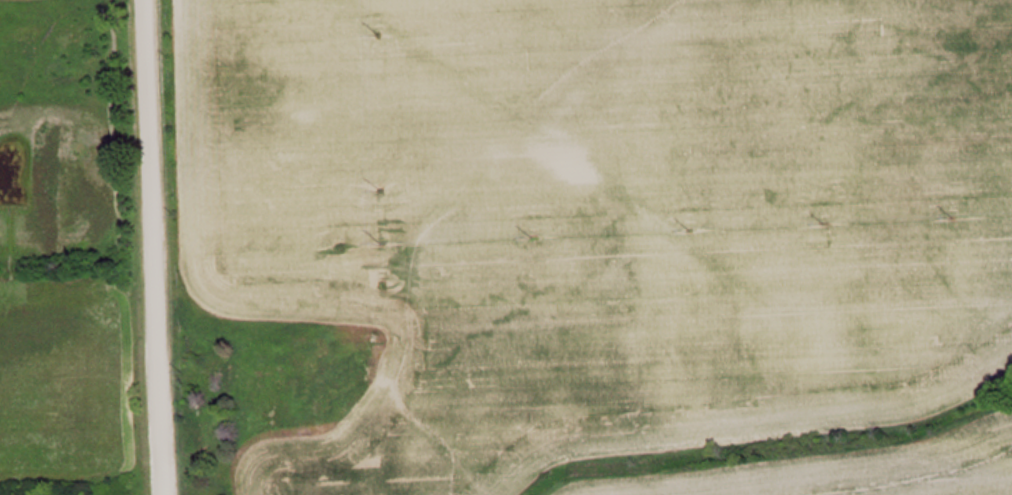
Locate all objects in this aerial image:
road: (151, 247)

